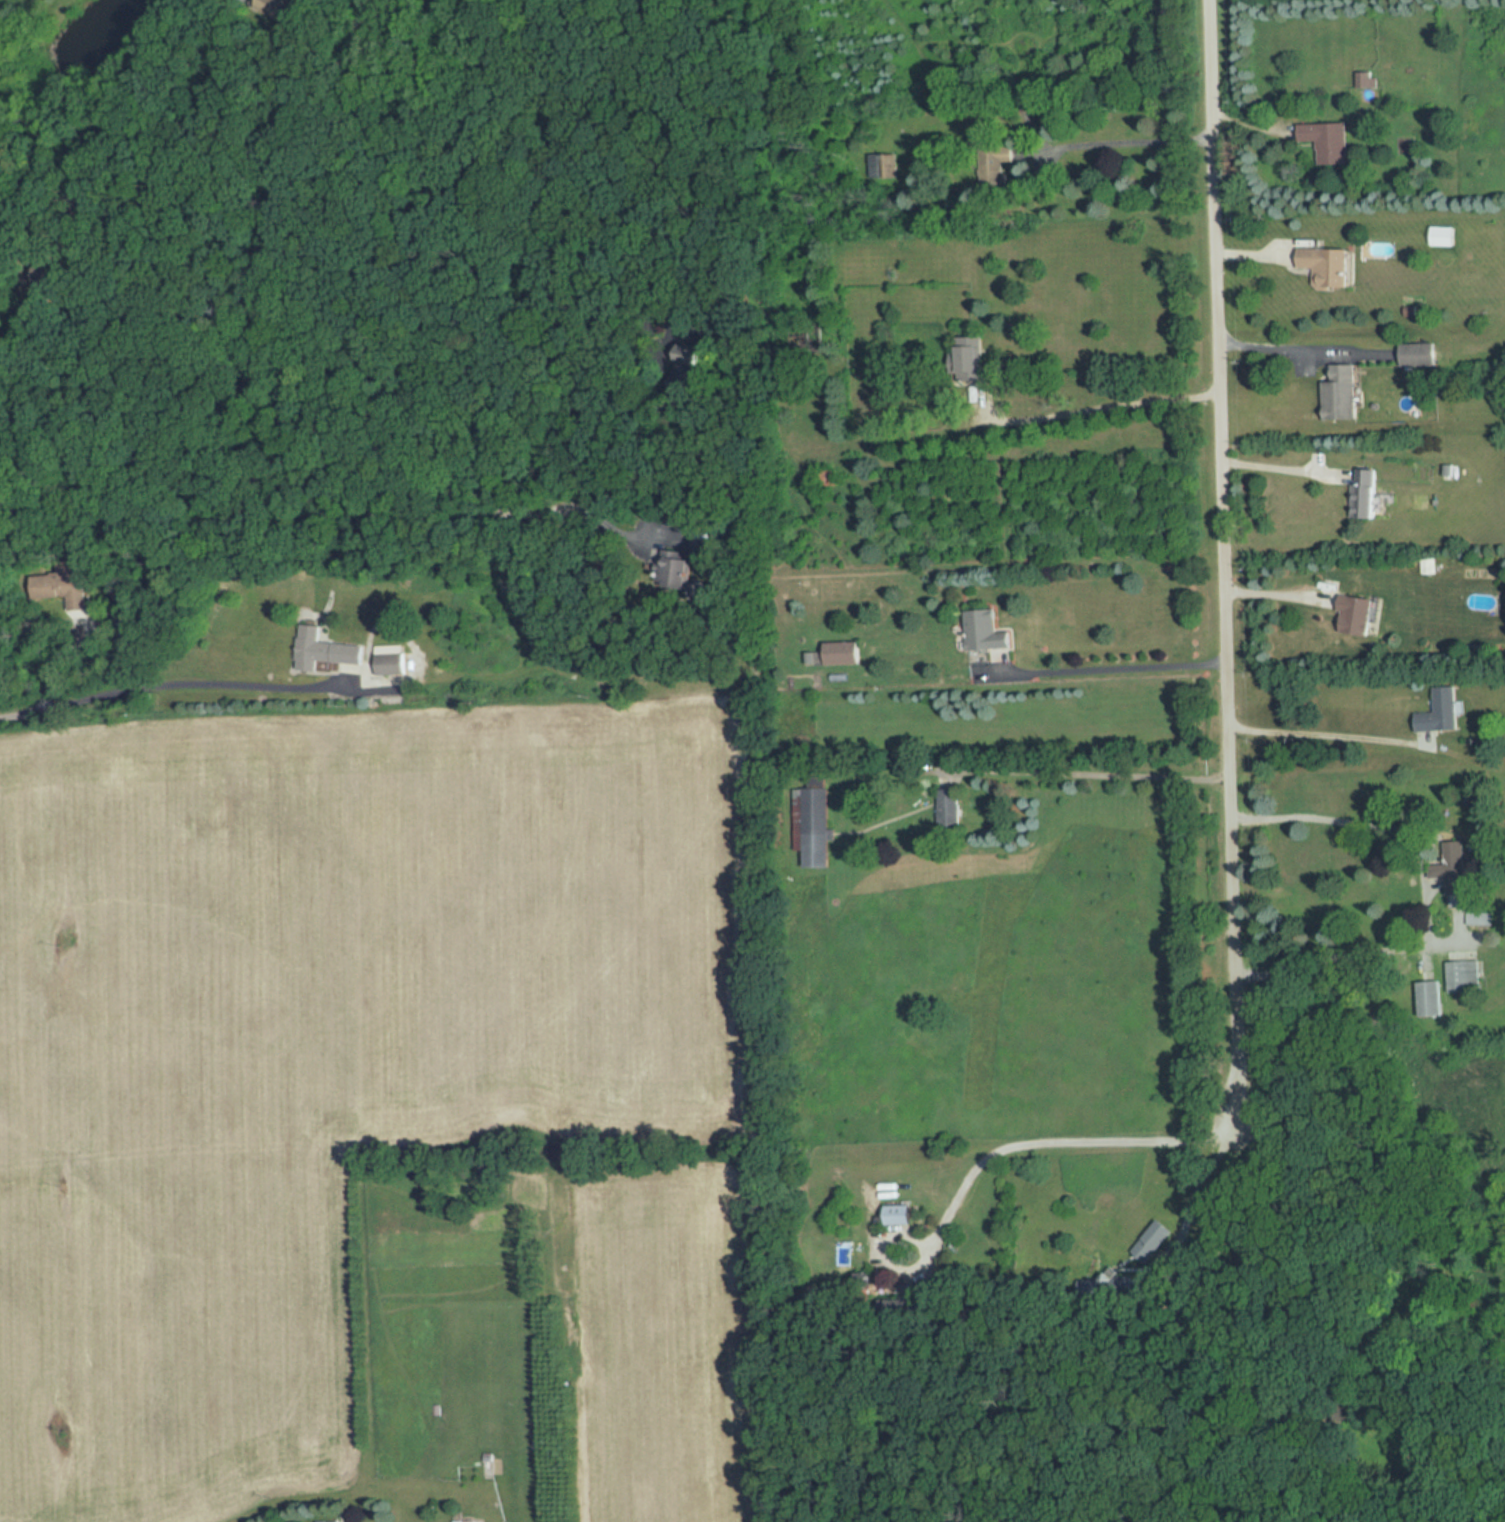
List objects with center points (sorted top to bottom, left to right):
building: (1361, 80)
road: (185, 131)
building: (1326, 141)
road: (356, 164)
road: (48, 199)
building: (1323, 266)
road: (1276, 351)
building: (1420, 355)
building: (1342, 394)
road: (1105, 408)
road: (1279, 467)
building: (826, 478)
building: (1368, 494)
road: (294, 515)
road: (648, 527)
road: (1221, 563)
road: (1274, 594)
building: (1358, 616)
building: (987, 631)
building: (325, 650)
building: (844, 653)
building: (390, 659)
road: (1106, 671)
road: (172, 685)
building: (1439, 710)
road: (1322, 738)
road: (1090, 778)
building: (818, 826)
building: (1456, 867)
road: (1424, 896)
building: (1461, 971)
building: (1426, 998)
road: (1046, 1134)
road: (1197, 1190)
building: (901, 1214)
road: (1323, 1234)
building: (1151, 1236)

